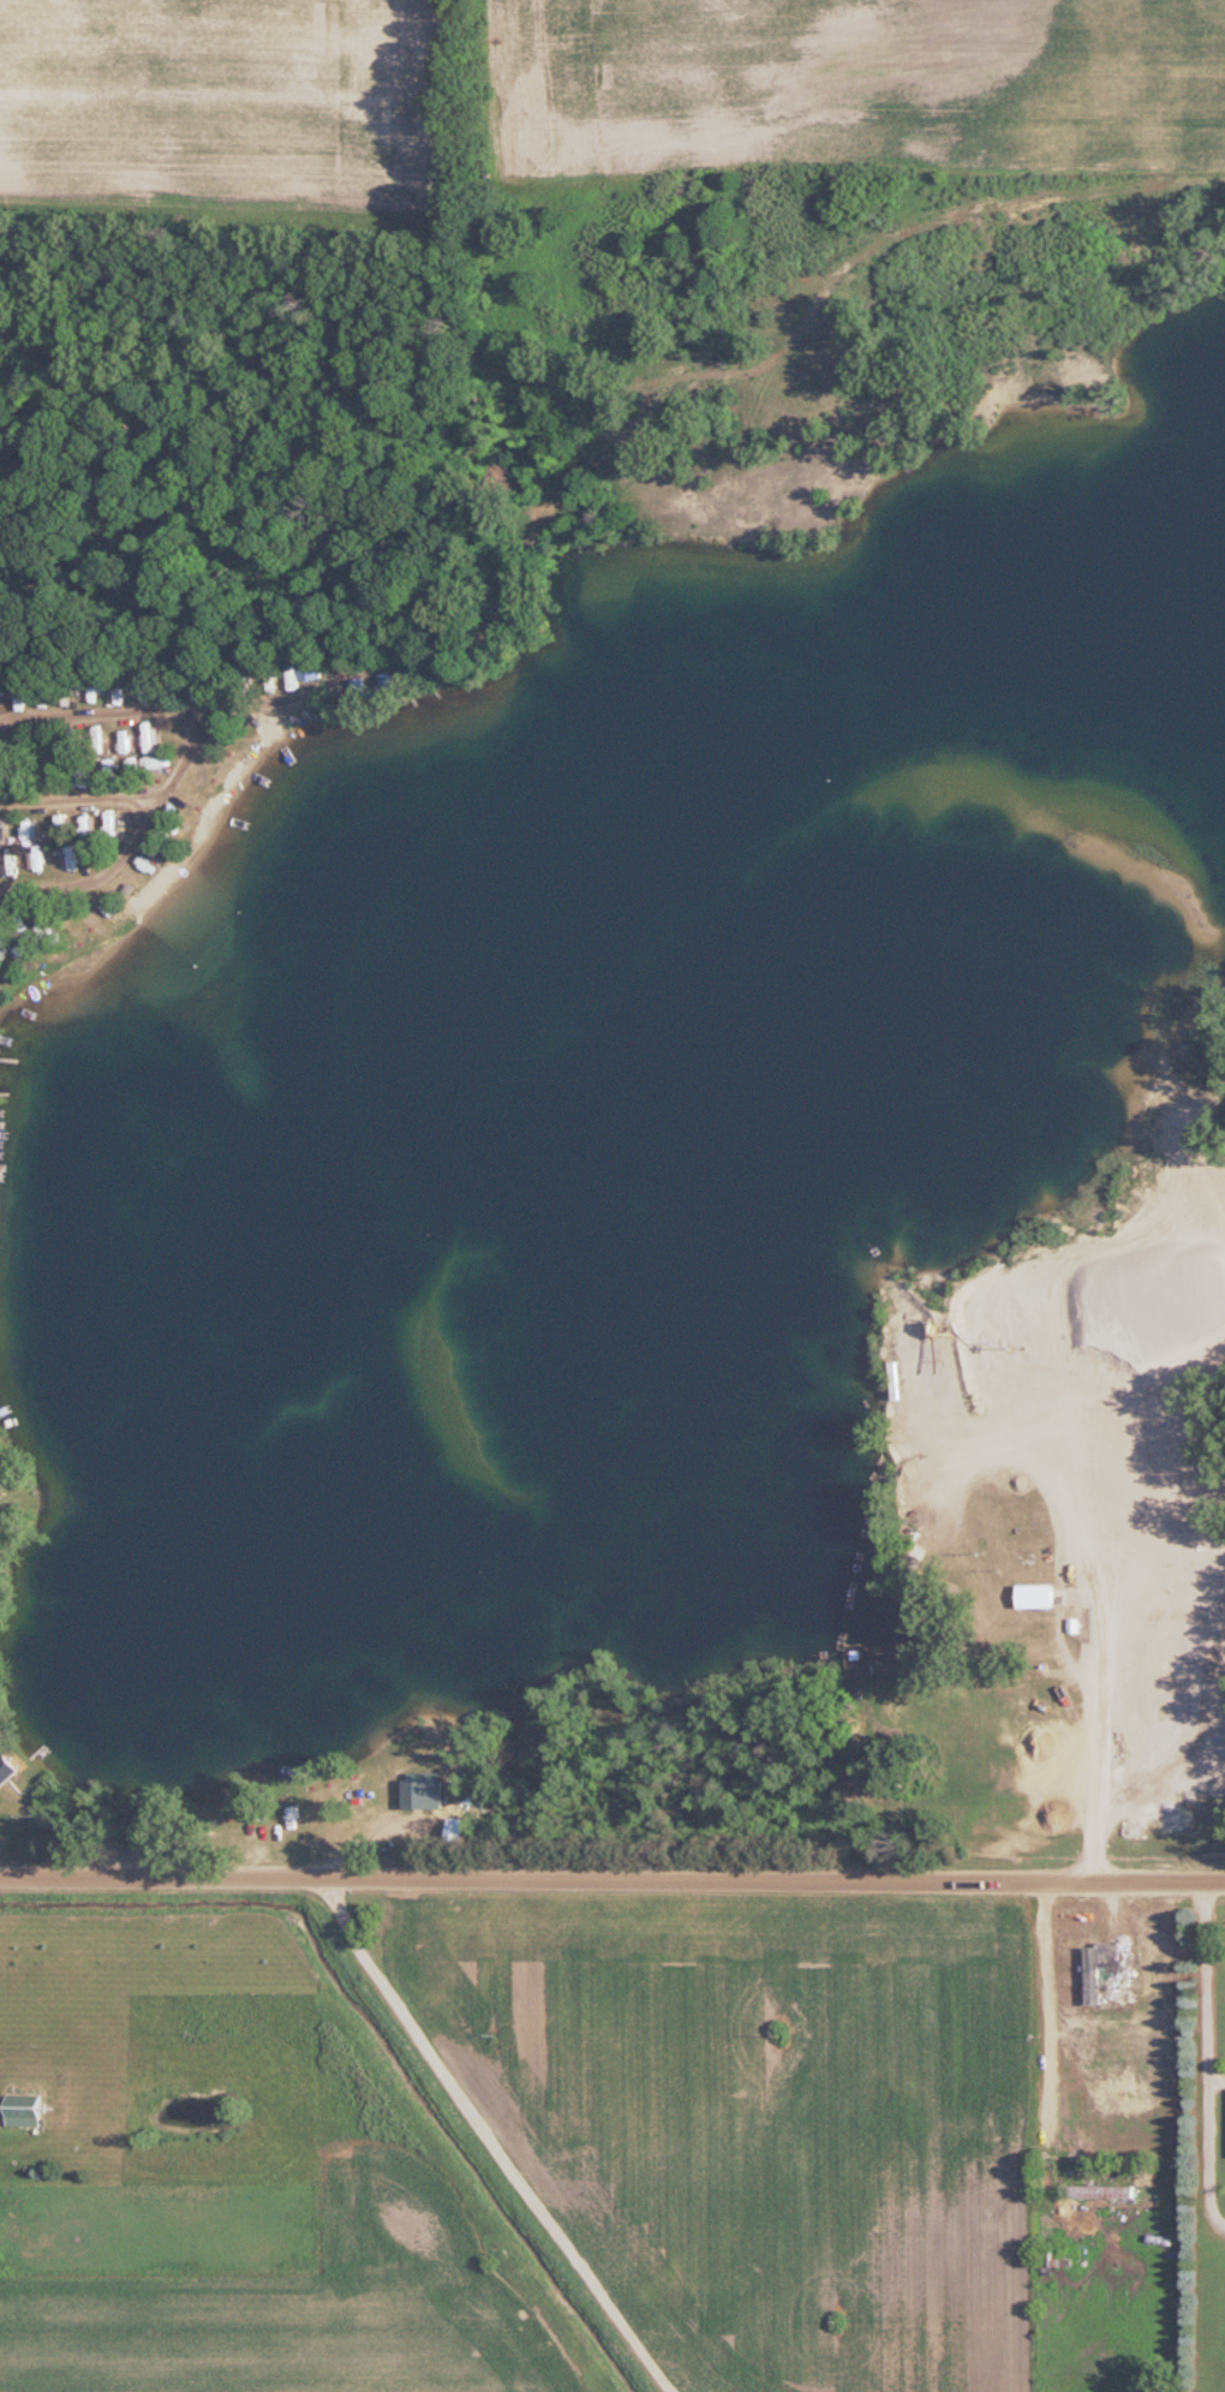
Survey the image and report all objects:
building: (309, 669)
building: (282, 678)
building: (91, 691)
building: (10, 697)
building: (48, 739)
building: (119, 739)
road: (177, 763)
road: (76, 800)
building: (108, 825)
building: (84, 828)
building: (59, 829)
building: (26, 833)
building: (1034, 1595)
road: (611, 1885)
building: (1101, 1973)
building: (1163, 1986)
road: (1207, 1986)
road: (1044, 2011)
building: (1117, 2058)
building: (20, 2111)
road: (479, 2142)
building: (1099, 2193)

